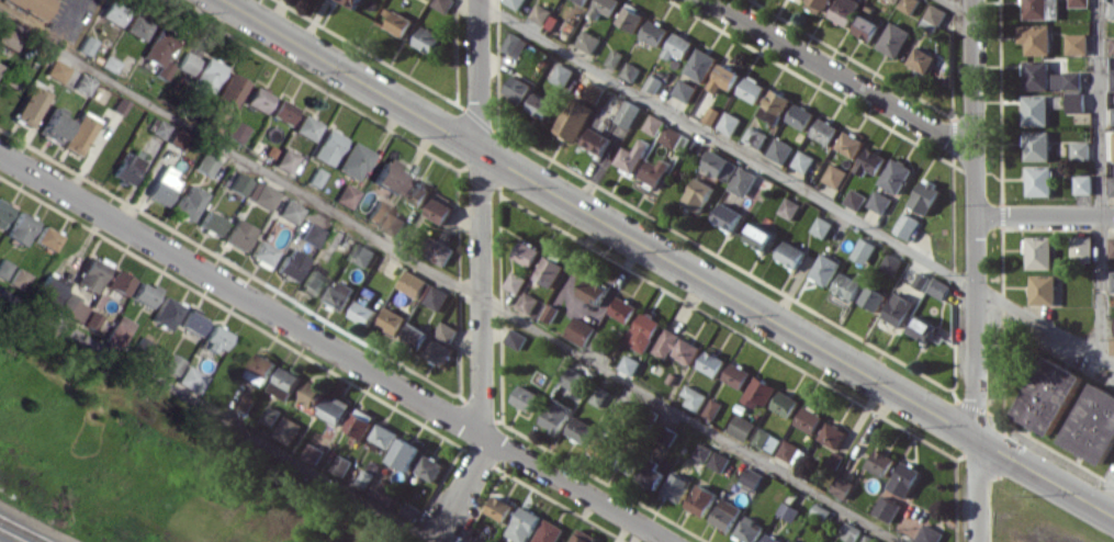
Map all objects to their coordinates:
building: (894, 0)
building: (584, 1)
building: (352, 2)
building: (515, 2)
building: (1079, 2)
building: (443, 4)
building: (818, 4)
building: (30, 5)
building: (909, 5)
building: (605, 7)
road: (959, 8)
building: (1042, 9)
building: (1112, 10)
building: (111, 11)
building: (845, 11)
building: (541, 13)
building: (631, 18)
building: (401, 23)
building: (135, 25)
building: (867, 27)
building: (655, 32)
building: (5, 38)
building: (894, 38)
building: (1036, 38)
building: (429, 39)
building: (588, 41)
building: (1077, 43)
building: (516, 45)
building: (1112, 45)
building: (678, 46)
building: (156, 55)
building: (615, 58)
building: (922, 60)
building: (185, 63)
building: (701, 64)
building: (54, 69)
building: (631, 71)
building: (204, 75)
building: (563, 75)
building: (1037, 75)
road: (843, 76)
building: (724, 78)
building: (1067, 79)
building: (1112, 79)
building: (81, 83)
building: (654, 83)
building: (518, 89)
building: (752, 89)
building: (227, 90)
building: (685, 90)
building: (256, 99)
building: (1076, 102)
building: (27, 105)
building: (541, 105)
building: (775, 106)
road: (974, 108)
building: (1036, 110)
building: (280, 111)
building: (581, 111)
building: (629, 113)
building: (712, 114)
building: (1113, 115)
building: (801, 116)
building: (730, 123)
building: (654, 124)
building: (52, 125)
building: (304, 127)
building: (157, 128)
building: (234, 131)
building: (825, 131)
building: (76, 133)
building: (671, 136)
building: (176, 137)
building: (597, 140)
building: (1113, 143)
building: (851, 144)
building: (1037, 145)
building: (325, 146)
building: (780, 149)
building: (1080, 149)
building: (632, 156)
building: (284, 160)
building: (352, 160)
building: (803, 161)
building: (871, 161)
building: (202, 163)
building: (720, 165)
building: (124, 167)
building: (655, 171)
building: (896, 174)
building: (386, 176)
building: (835, 176)
road: (1100, 178)
building: (1039, 180)
building: (743, 181)
building: (237, 183)
building: (1083, 183)
road: (795, 184)
building: (161, 185)
building: (1112, 185)
building: (417, 192)
building: (259, 193)
building: (698, 194)
building: (345, 195)
building: (926, 195)
building: (856, 199)
building: (187, 201)
building: (879, 201)
building: (789, 207)
building: (440, 210)
building: (3, 211)
building: (288, 211)
building: (376, 213)
building: (728, 216)
road: (1044, 216)
road: (600, 218)
building: (209, 222)
building: (395, 224)
building: (822, 226)
building: (907, 226)
building: (19, 228)
building: (236, 234)
building: (311, 234)
building: (759, 236)
building: (45, 238)
building: (1112, 246)
building: (1082, 248)
building: (864, 250)
building: (440, 251)
building: (528, 252)
building: (1039, 252)
building: (260, 253)
building: (363, 253)
building: (791, 253)
building: (289, 263)
building: (892, 263)
building: (3, 268)
building: (825, 269)
building: (550, 271)
building: (90, 273)
road: (481, 275)
building: (18, 278)
building: (313, 280)
road: (450, 280)
building: (1112, 281)
building: (117, 282)
building: (516, 282)
building: (414, 283)
building: (848, 284)
building: (939, 287)
building: (49, 289)
building: (1044, 289)
building: (594, 291)
building: (144, 293)
building: (340, 294)
building: (437, 297)
building: (873, 297)
building: (527, 303)
building: (899, 308)
building: (74, 309)
building: (624, 309)
building: (364, 310)
building: (165, 312)
building: (191, 320)
building: (393, 320)
building: (922, 327)
road: (976, 327)
building: (117, 330)
building: (581, 330)
building: (447, 331)
building: (644, 331)
building: (416, 335)
building: (516, 338)
building: (213, 339)
building: (1112, 345)
building: (676, 346)
road: (335, 349)
building: (440, 351)
building: (170, 363)
building: (712, 363)
building: (261, 368)
building: (738, 375)
building: (190, 379)
building: (576, 380)
building: (285, 382)
building: (761, 392)
building: (316, 393)
building: (1049, 395)
building: (526, 397)
building: (695, 397)
building: (786, 404)
building: (335, 408)
building: (713, 408)
building: (556, 415)
road: (218, 417)
building: (810, 419)
building: (361, 421)
building: (1094, 425)
building: (742, 427)
building: (581, 429)
building: (288, 430)
building: (384, 434)
building: (833, 434)
building: (767, 440)
building: (603, 448)
building: (788, 450)
building: (704, 452)
building: (406, 453)
building: (720, 461)
building: (627, 462)
building: (882, 462)
building: (341, 465)
building: (430, 467)
building: (651, 475)
building: (752, 477)
road: (1046, 477)
building: (905, 478)
building: (843, 486)
building: (676, 489)
road: (978, 490)
building: (384, 492)
building: (702, 499)
building: (500, 508)
building: (887, 508)
building: (410, 510)
building: (725, 513)
building: (524, 524)
railway: (26, 528)
building: (749, 529)
building: (549, 531)
building: (851, 532)
building: (929, 533)
railway: (12, 535)
building: (583, 535)
building: (772, 539)

